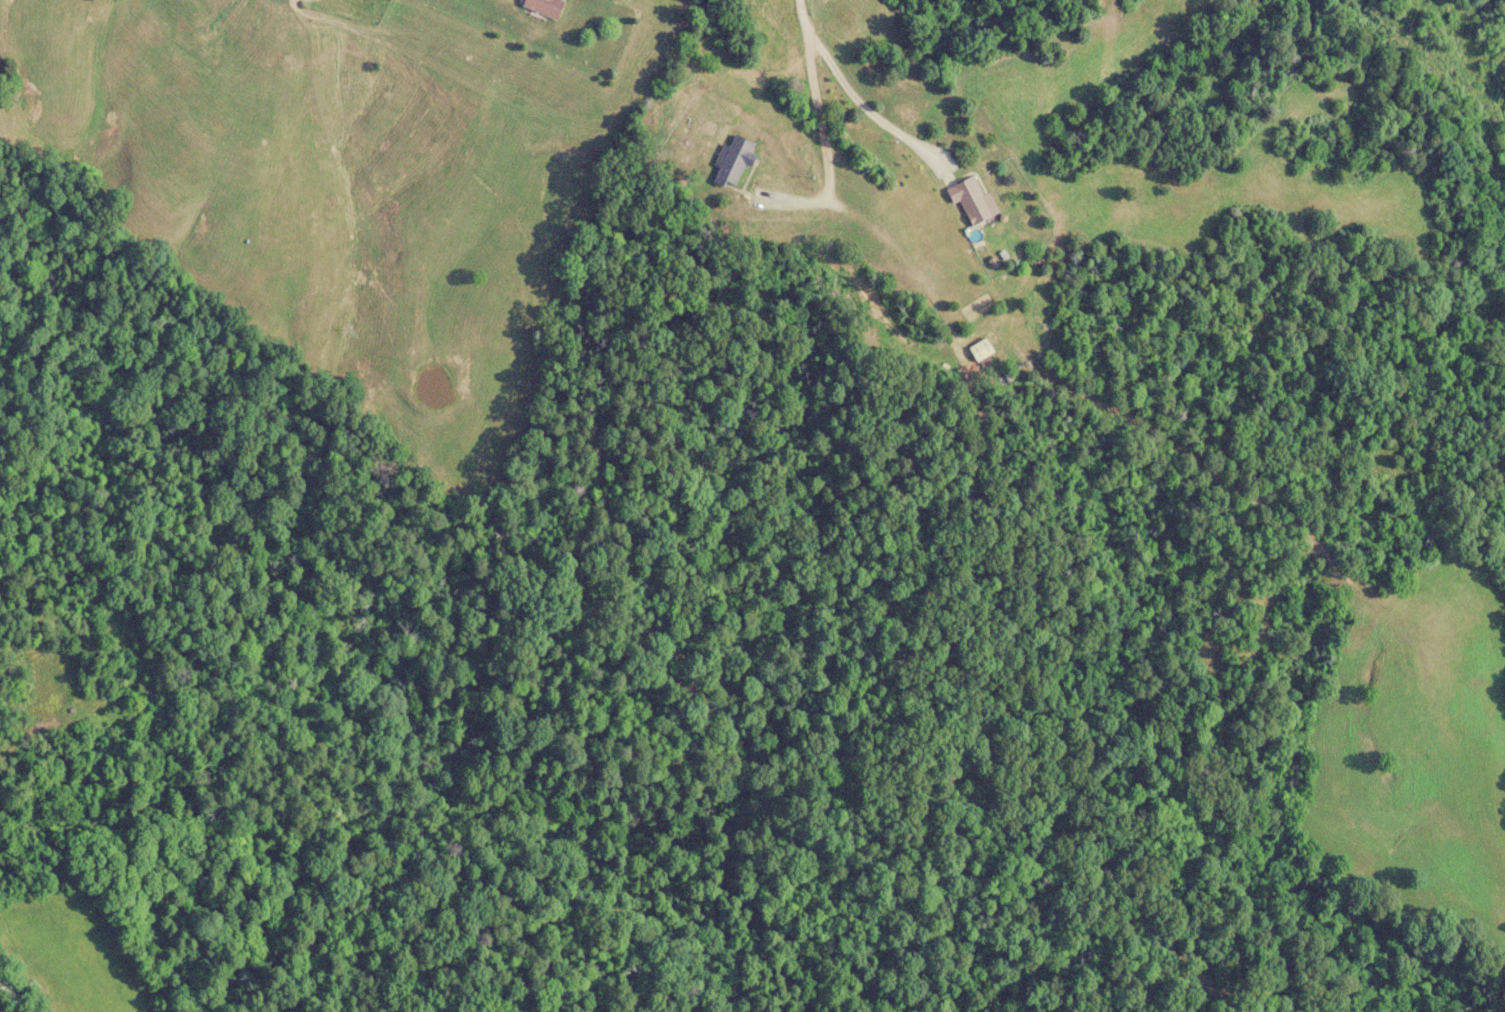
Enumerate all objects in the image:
building: (547, 8)
road: (1486, 22)
road: (813, 96)
building: (736, 163)
building: (974, 202)
building: (982, 350)

